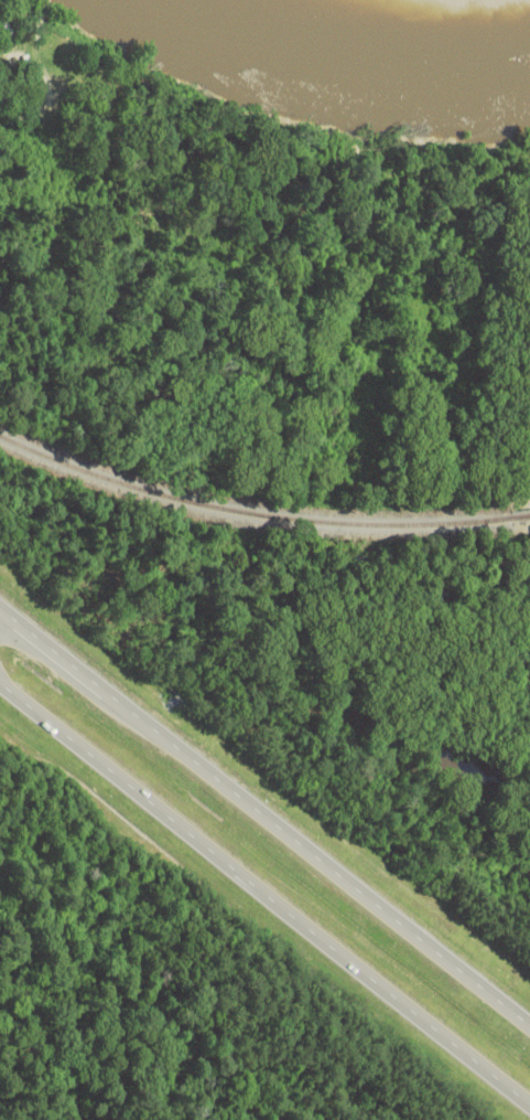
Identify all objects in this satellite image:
river: (348, 41)
railway: (258, 514)
road: (264, 813)
road: (266, 885)

